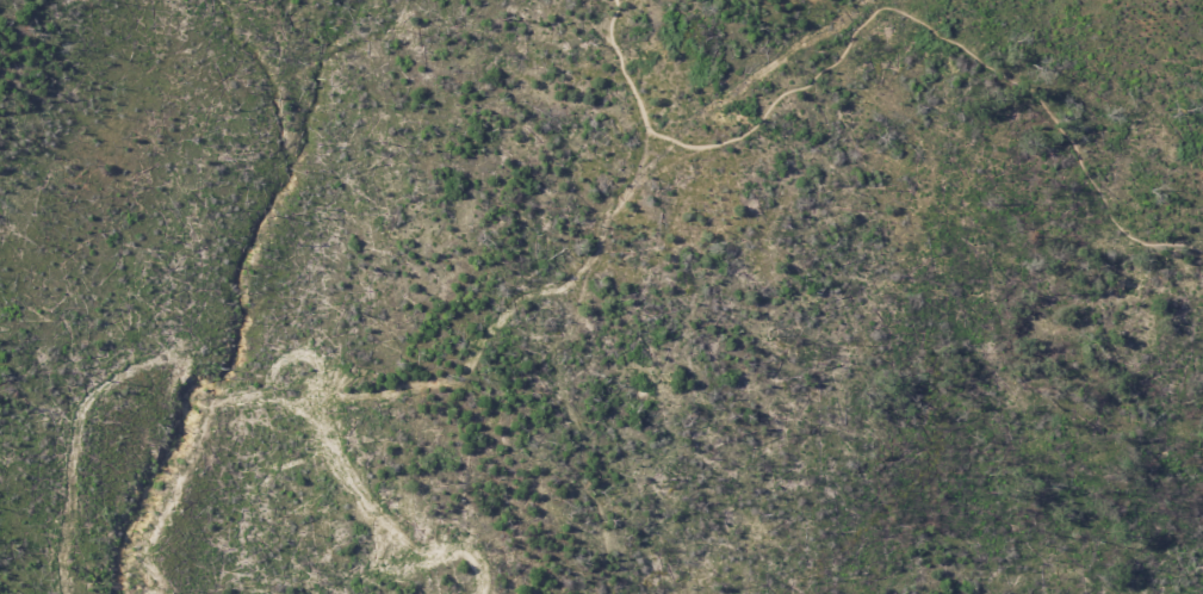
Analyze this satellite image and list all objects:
road: (882, 2)
park: (601, 297)
road: (556, 354)

